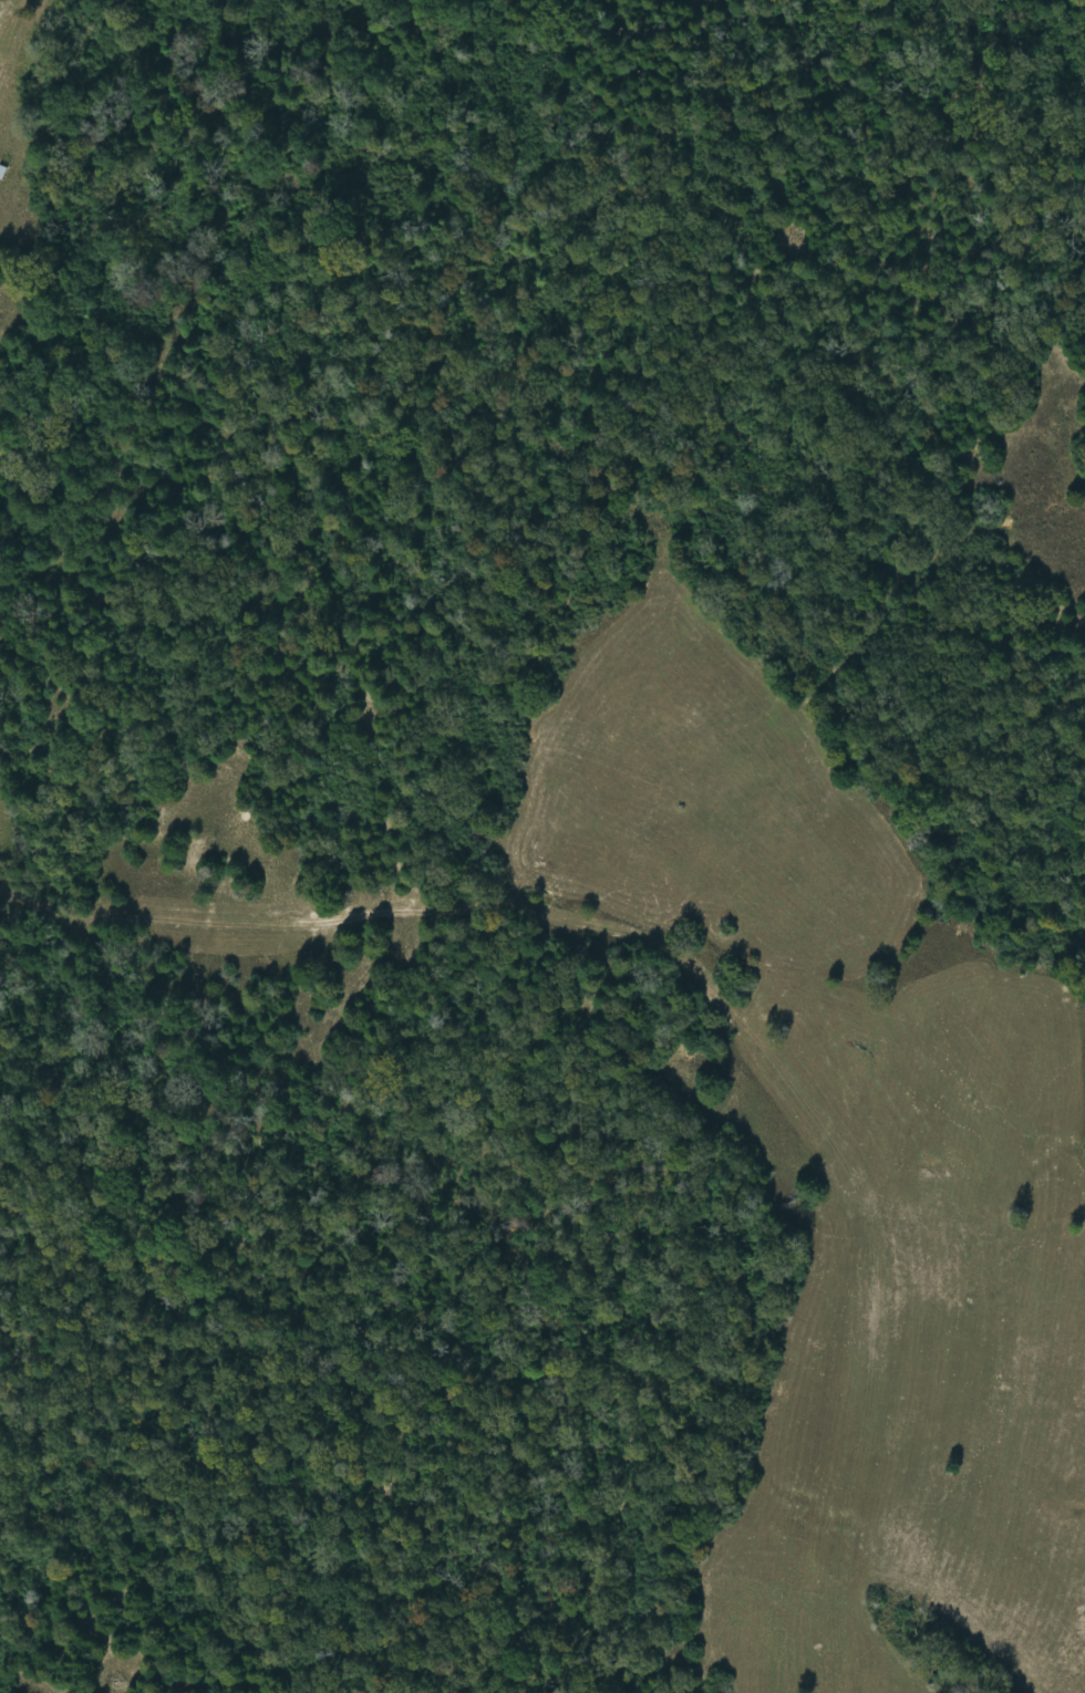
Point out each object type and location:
road: (56, 79)

